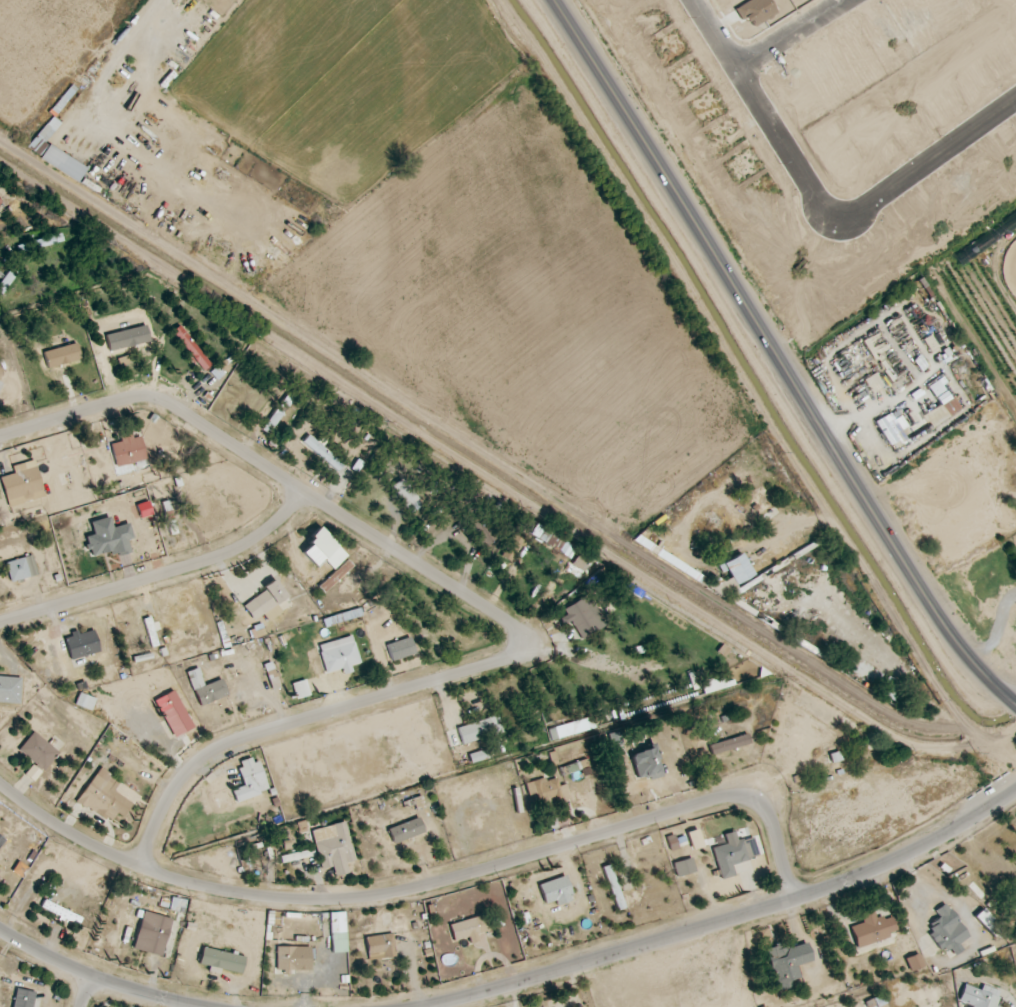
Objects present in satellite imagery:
road: (109, 65)
building: (43, 134)
building: (62, 163)
building: (8, 277)
building: (190, 348)
building: (61, 356)
road: (778, 357)
building: (0, 375)
building: (943, 397)
building: (277, 413)
building: (891, 428)
building: (127, 450)
building: (321, 453)
road: (276, 474)
building: (21, 485)
building: (405, 495)
building: (478, 525)
building: (107, 538)
building: (555, 542)
building: (511, 548)
building: (322, 551)
building: (581, 560)
building: (20, 568)
road: (161, 575)
building: (732, 575)
building: (335, 576)
building: (264, 600)
building: (583, 617)
building: (81, 644)
building: (400, 648)
building: (338, 655)
building: (712, 683)
building: (205, 688)
building: (889, 688)
building: (9, 689)
building: (299, 689)
building: (84, 701)
road: (1015, 702)
building: (173, 713)
road: (301, 720)
building: (572, 728)
building: (479, 730)
building: (729, 744)
building: (38, 751)
building: (478, 756)
building: (645, 764)
building: (250, 780)
building: (545, 793)
building: (104, 796)
park: (884, 813)
building: (405, 830)
building: (333, 847)
building: (733, 853)
building: (684, 867)
road: (427, 886)
building: (555, 891)
road: (724, 920)
building: (987, 922)
building: (337, 929)
building: (468, 929)
building: (871, 929)
building: (939, 929)
building: (152, 933)
building: (380, 945)
building: (221, 960)
building: (913, 962)
building: (787, 963)
road: (99, 978)
road: (85, 991)
building: (978, 996)
building: (23, 998)
building: (544, 1006)

